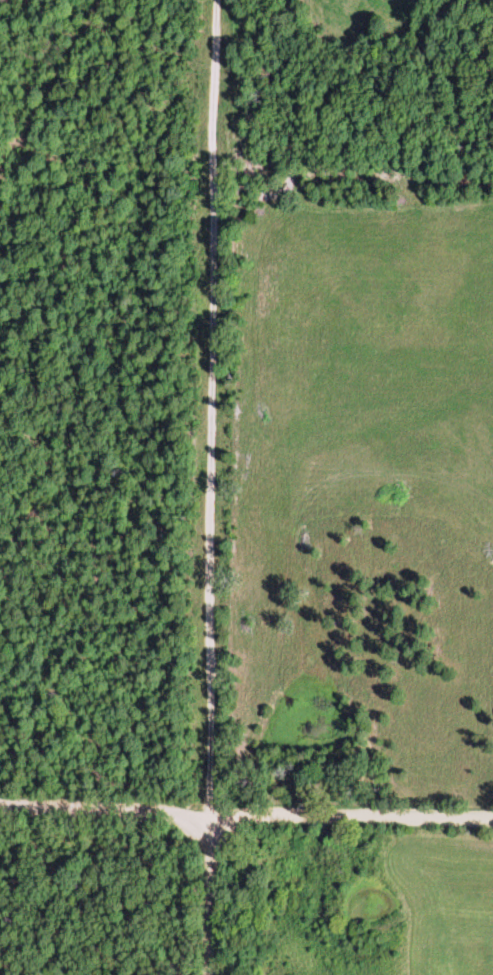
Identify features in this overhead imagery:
road: (246, 816)
road: (207, 895)

